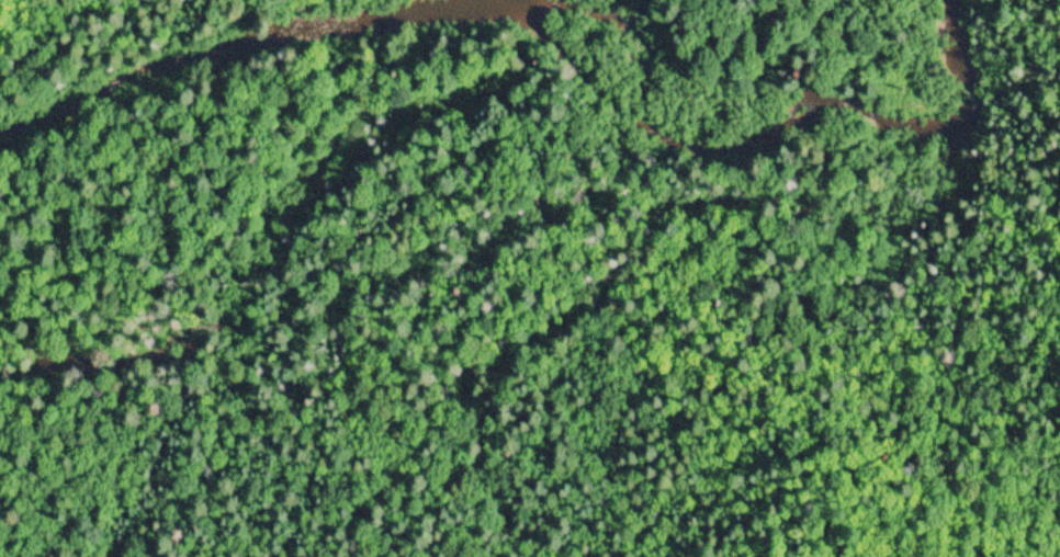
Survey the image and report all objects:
road: (47, 2)
river: (543, 49)

